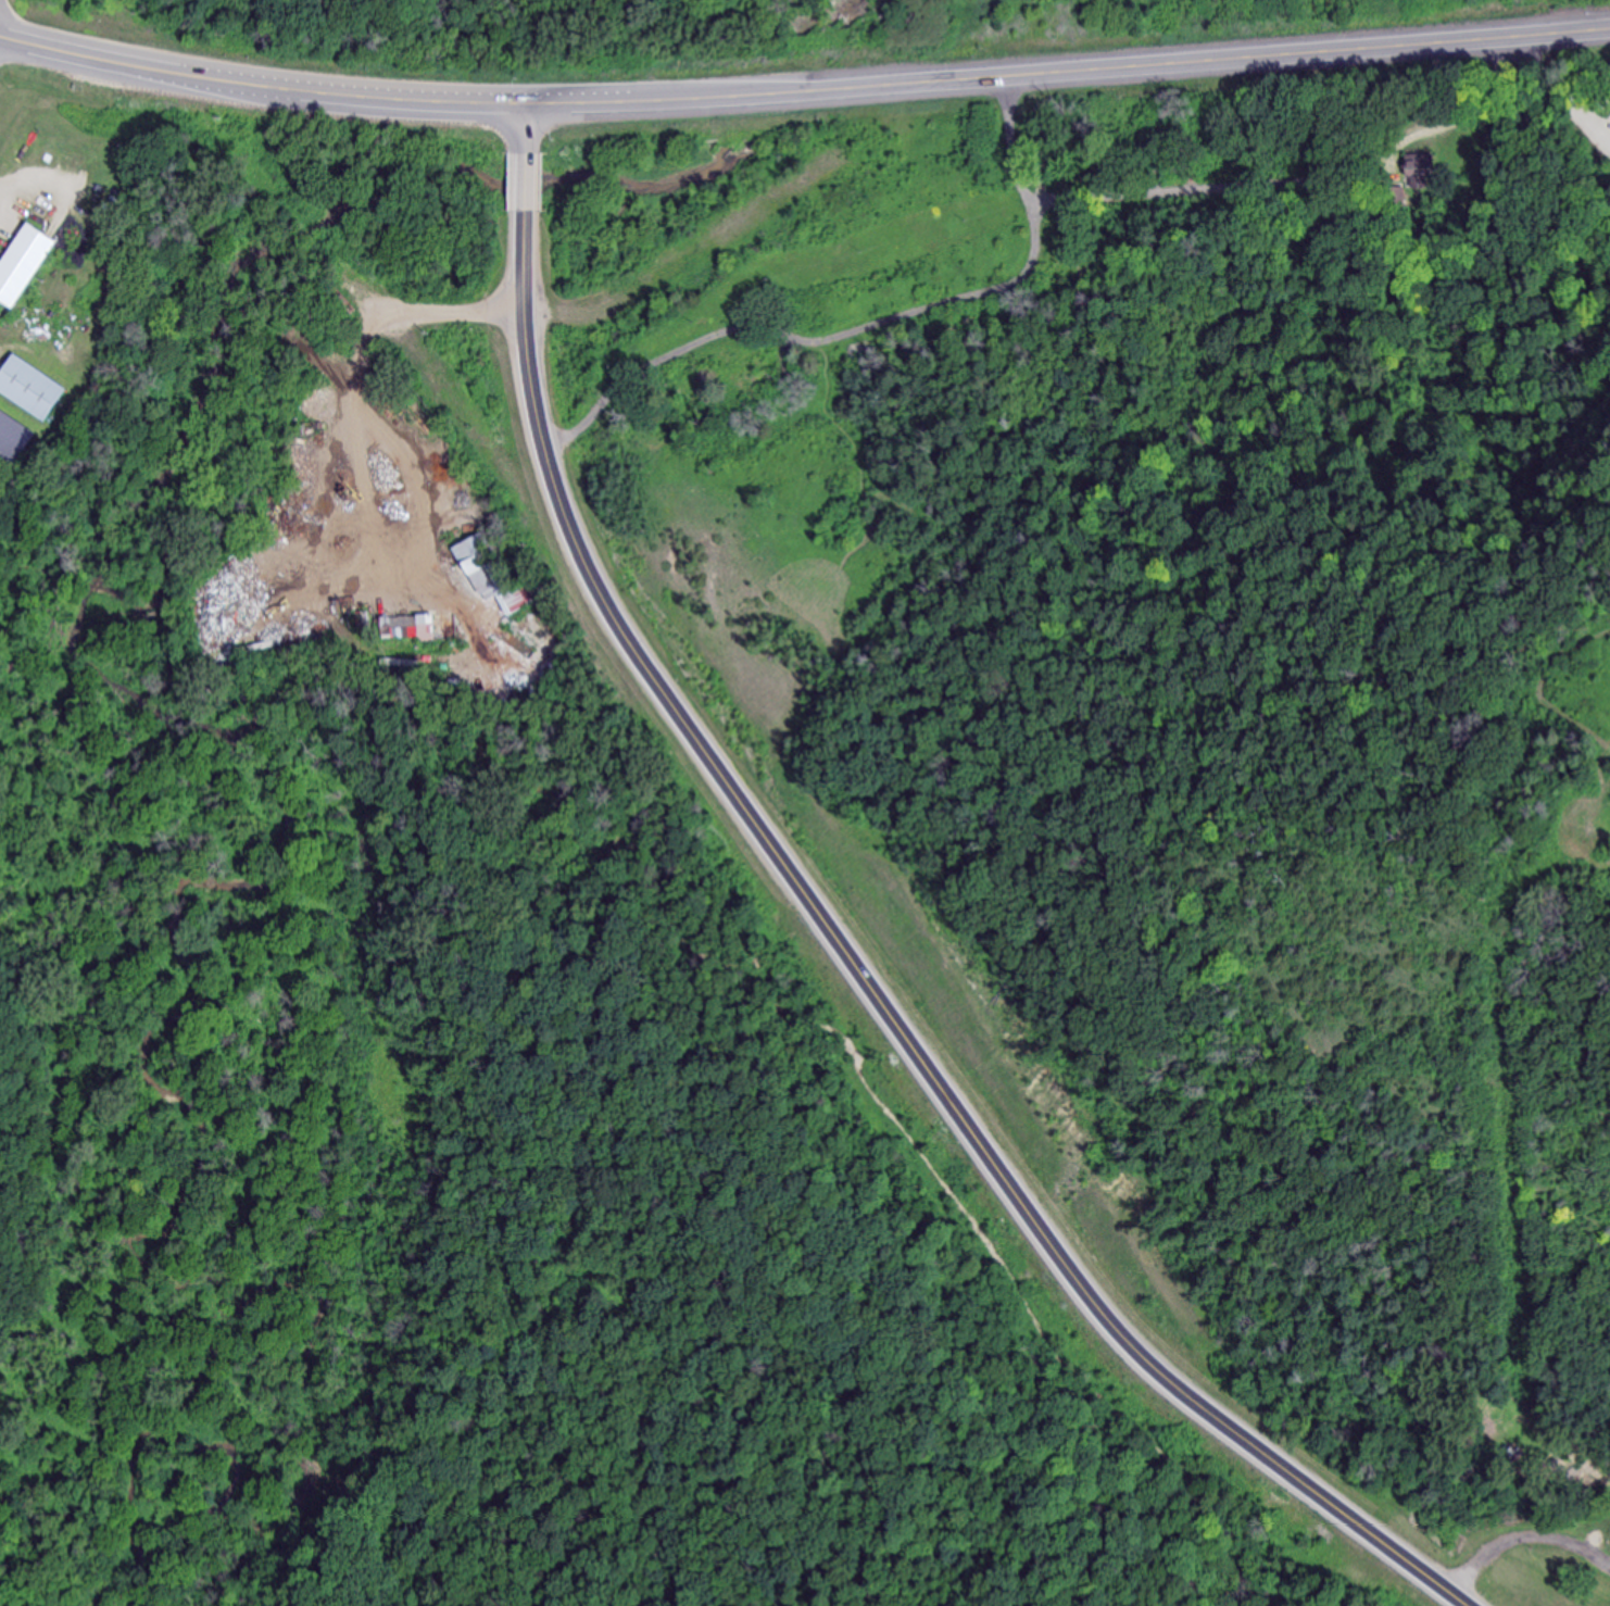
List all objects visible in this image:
road: (803, 90)
road: (527, 128)
building: (1420, 170)
road: (526, 183)
building: (25, 265)
road: (870, 327)
building: (856, 352)
building: (34, 389)
building: (492, 573)
building: (408, 628)
road: (870, 986)
road: (1523, 1540)

